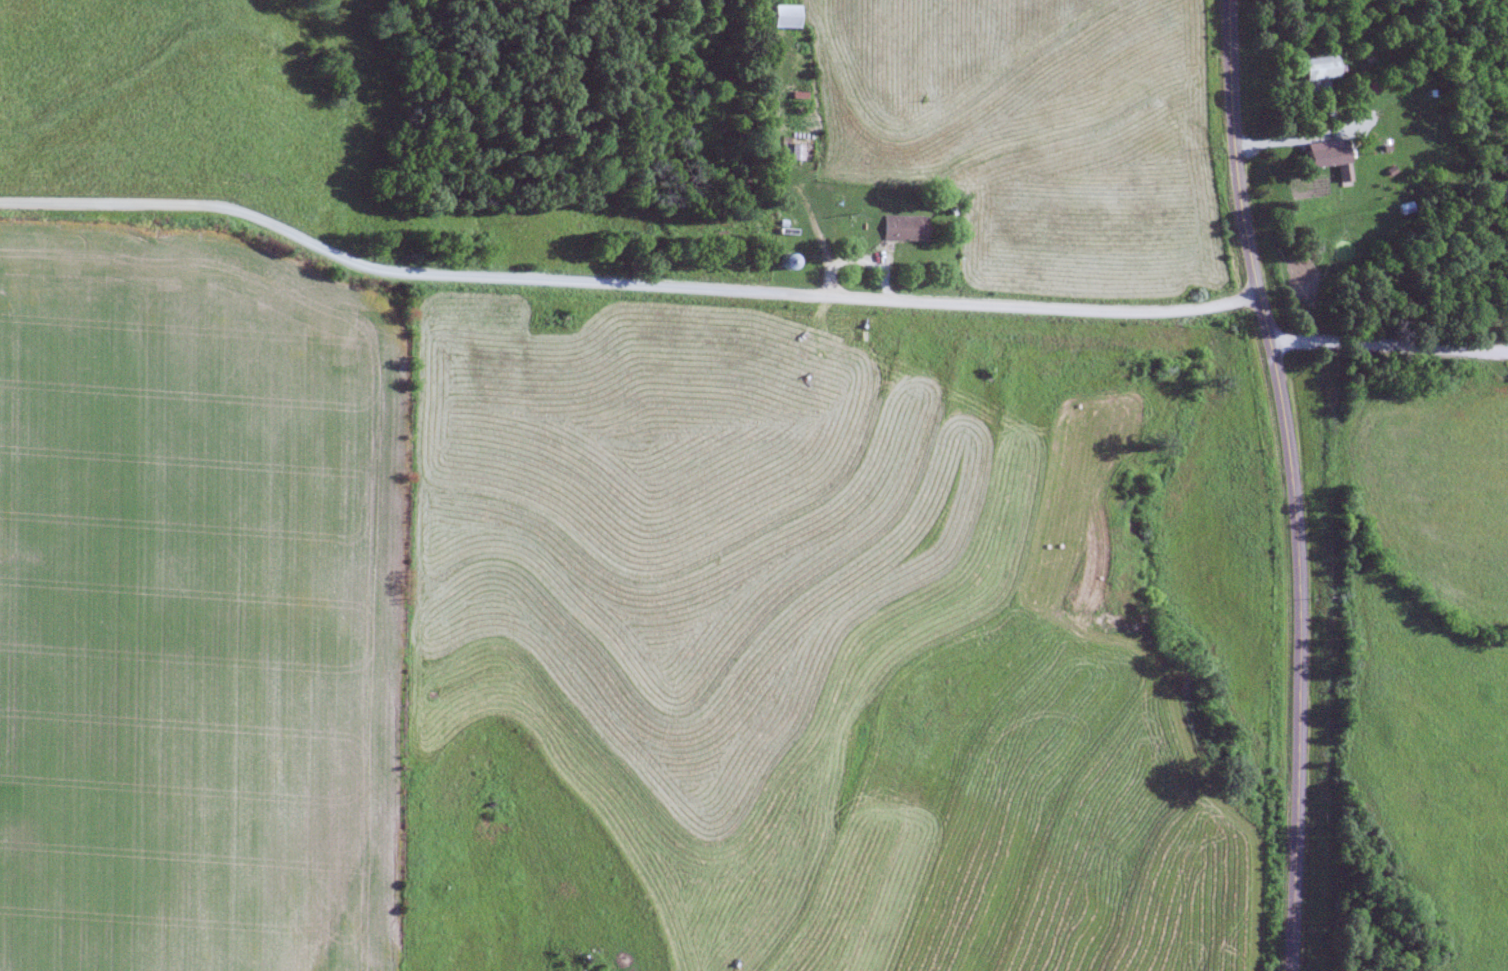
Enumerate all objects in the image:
building: (783, 16)
building: (1318, 67)
building: (1409, 113)
building: (794, 152)
building: (1331, 160)
building: (904, 228)
building: (787, 261)
road: (621, 284)
road: (1385, 345)
road: (1290, 483)

